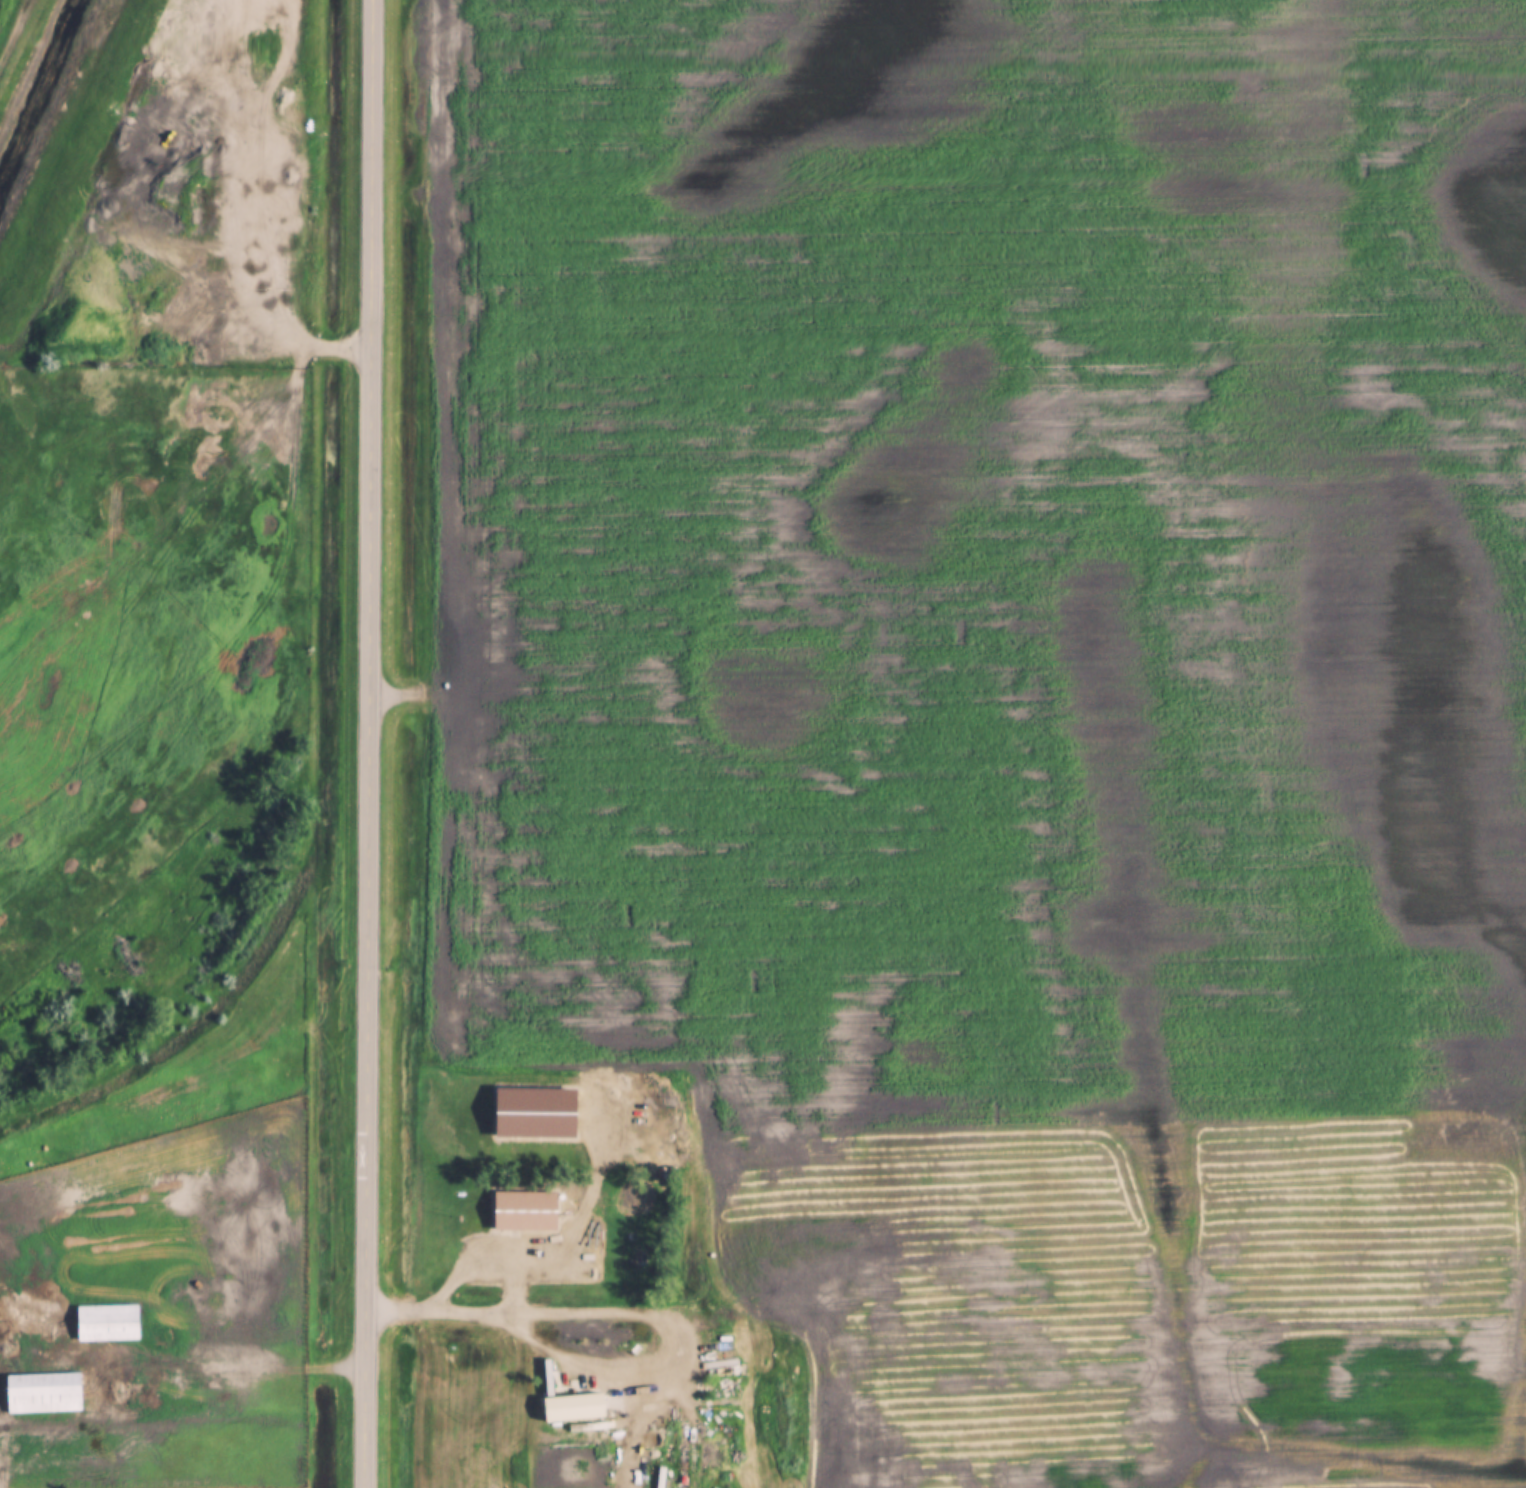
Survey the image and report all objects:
building: (211, 283)
building: (211, 315)
crop: (1006, 696)
road: (373, 744)
building: (535, 1113)
building: (525, 1211)
road: (648, 1309)
building: (107, 1322)
building: (43, 1393)
building: (593, 1401)

